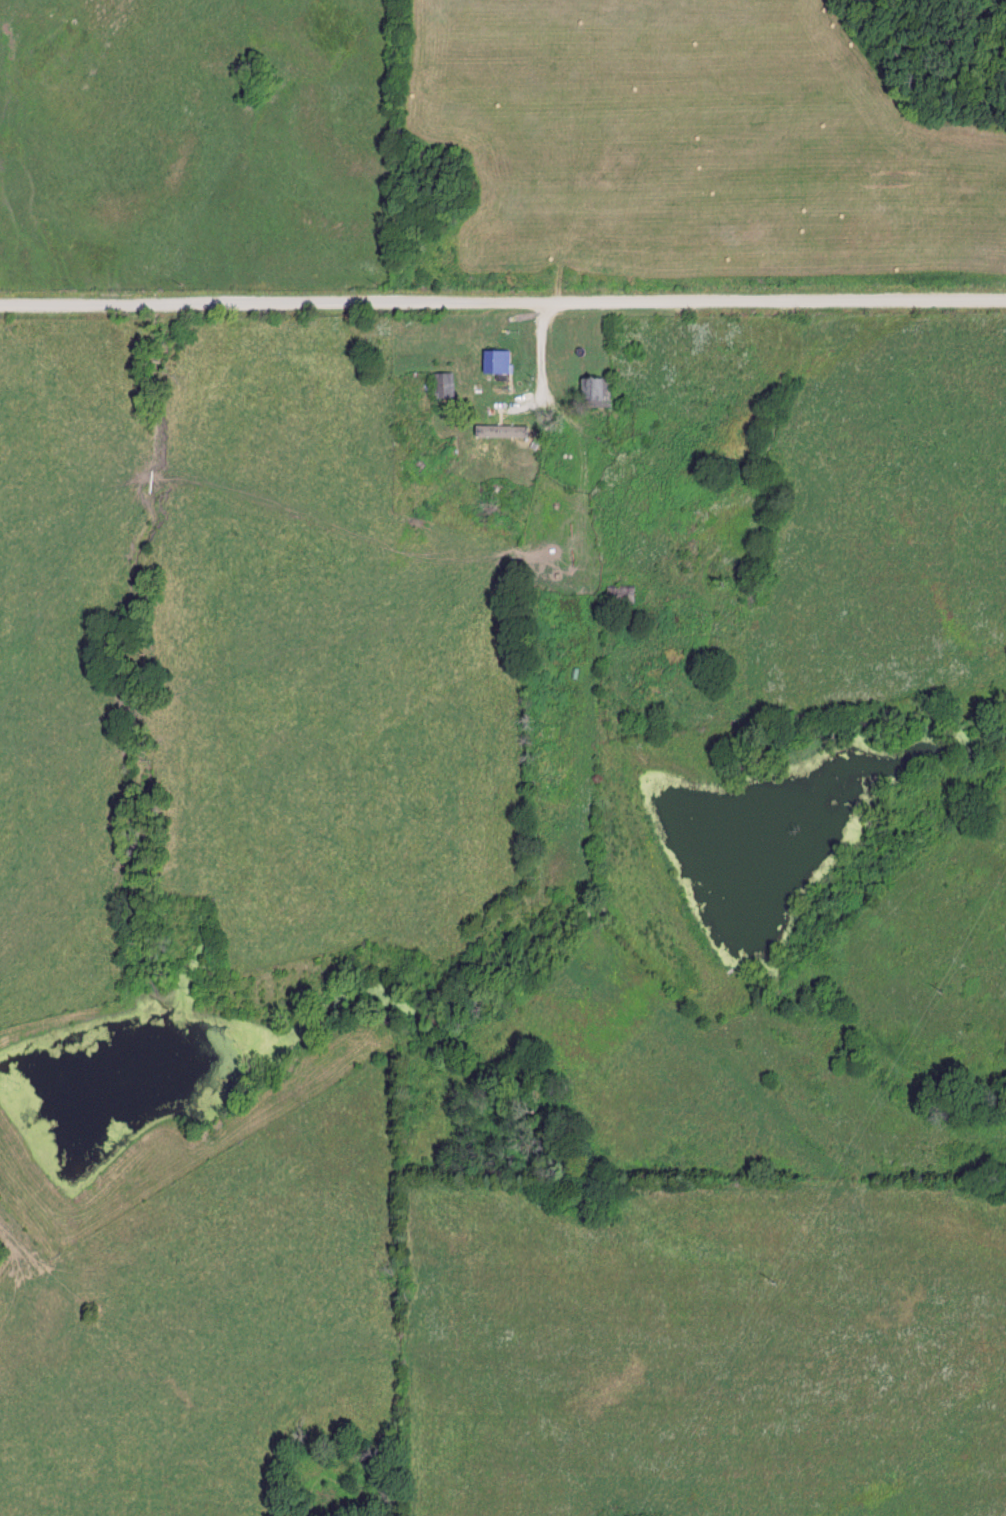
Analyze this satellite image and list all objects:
road: (503, 299)
building: (495, 361)
building: (441, 385)
building: (594, 390)
building: (496, 415)

